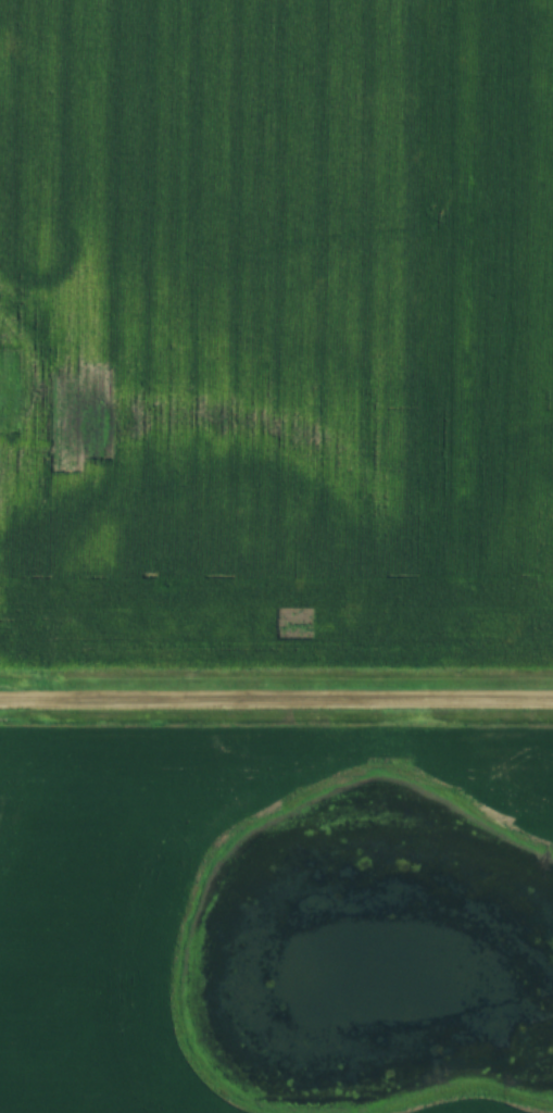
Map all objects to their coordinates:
road: (276, 696)

